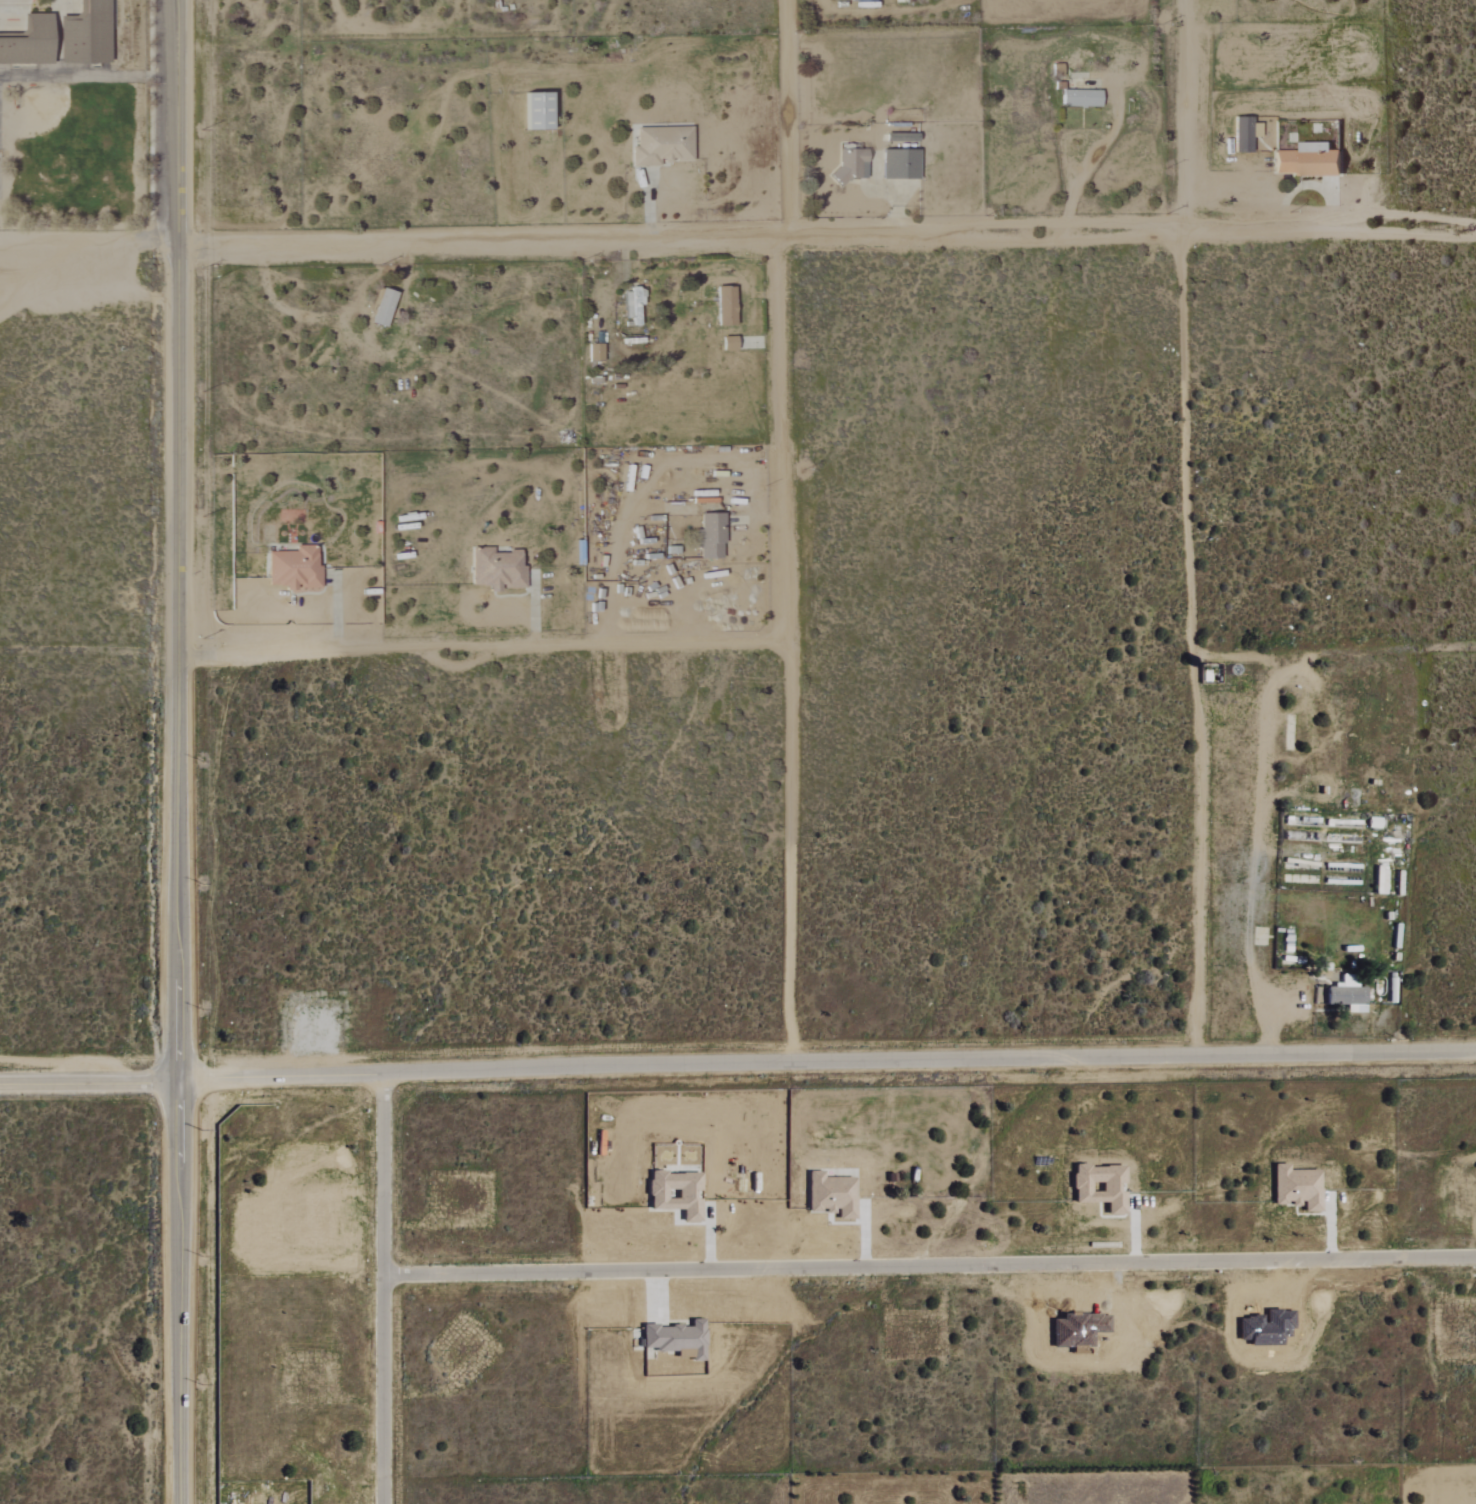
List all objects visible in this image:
building: (860, 0)
building: (1080, 98)
building: (535, 110)
building: (1241, 140)
building: (660, 145)
building: (1307, 160)
road: (1087, 162)
building: (899, 163)
building: (851, 164)
road: (1307, 185)
road: (892, 193)
road: (531, 196)
road: (840, 239)
road: (70, 240)
road: (158, 242)
road: (190, 243)
building: (724, 305)
building: (381, 307)
road: (280, 308)
building: (593, 352)
road: (652, 474)
road: (1189, 527)
road: (785, 531)
building: (710, 536)
building: (293, 568)
building: (495, 569)
road: (483, 644)
road: (1336, 651)
road: (178, 751)
road: (1248, 916)
building: (1342, 995)
road: (826, 1062)
road: (89, 1082)
building: (1099, 1186)
building: (1295, 1188)
building: (674, 1192)
building: (832, 1197)
road: (929, 1268)
road: (383, 1289)
building: (675, 1337)

